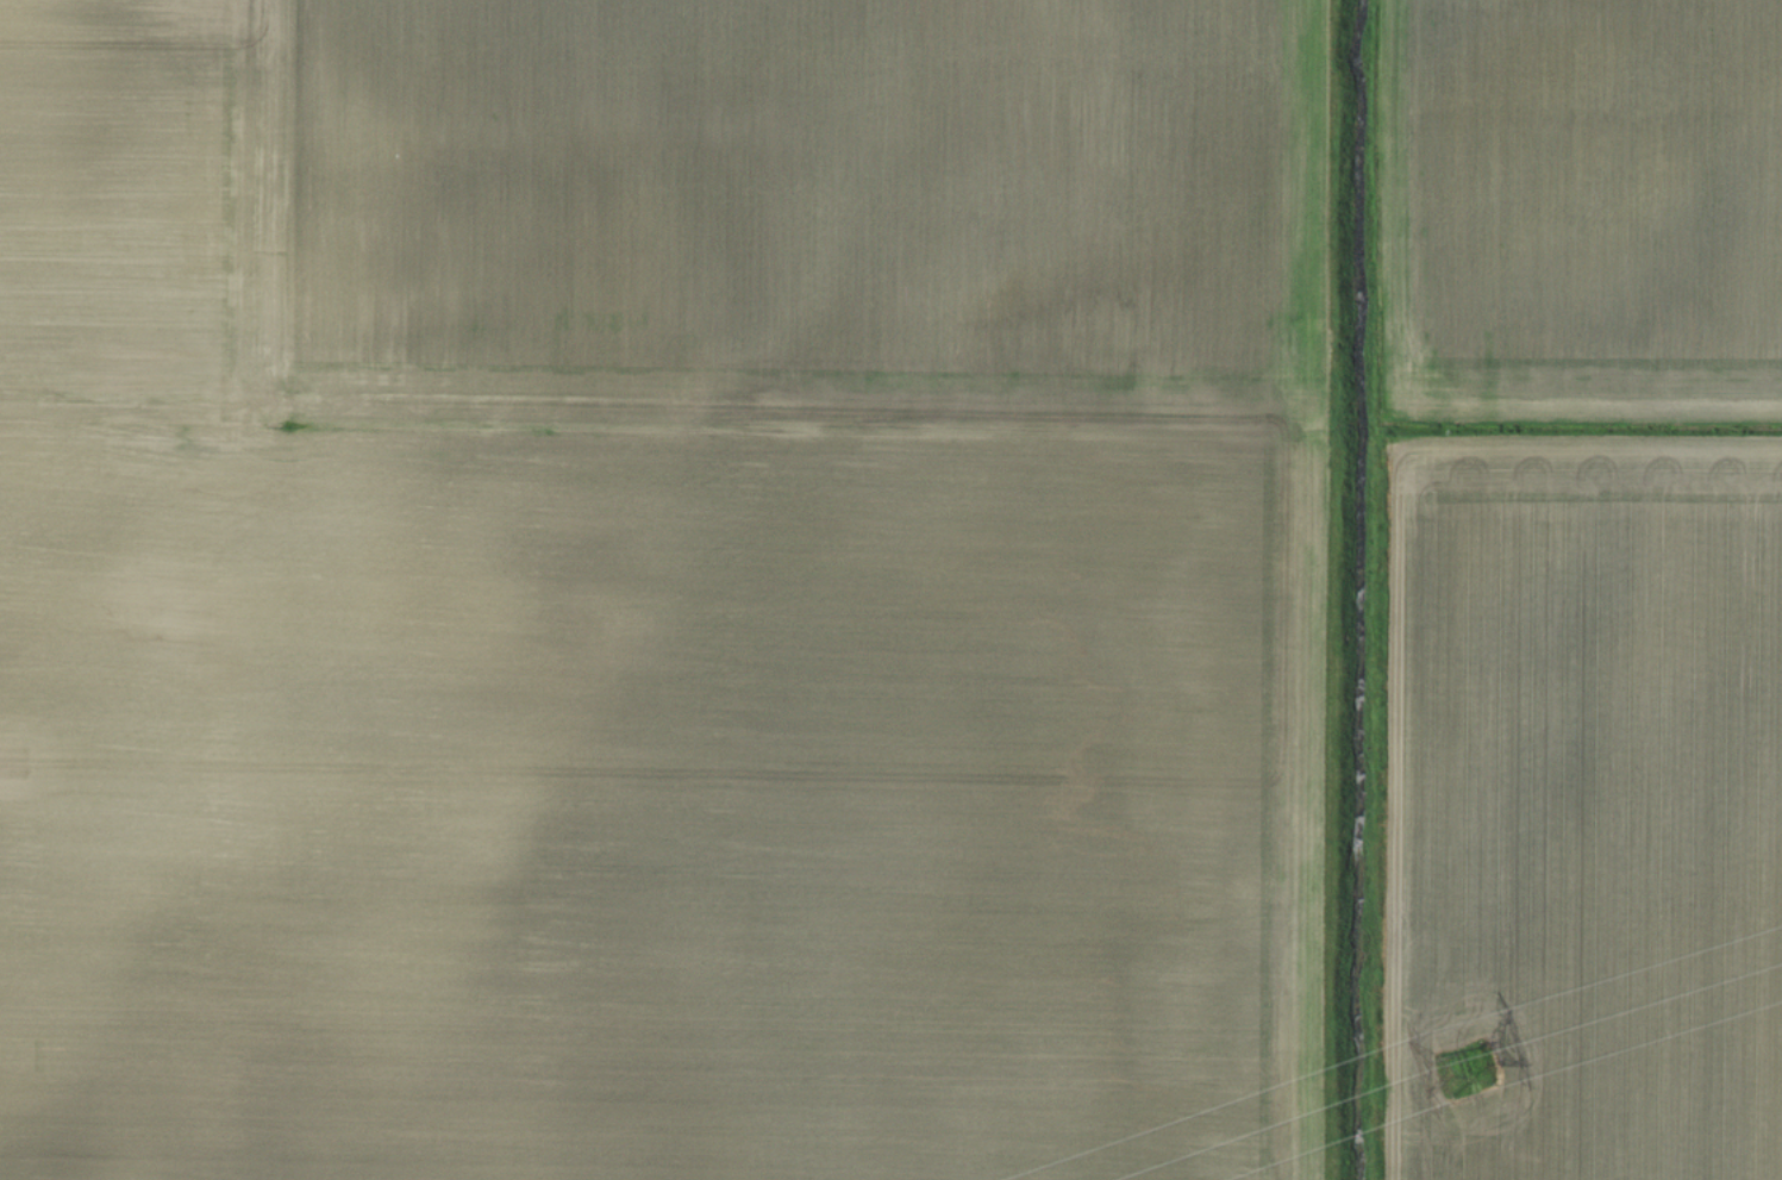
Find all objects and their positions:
power tower: (1457, 1048)

